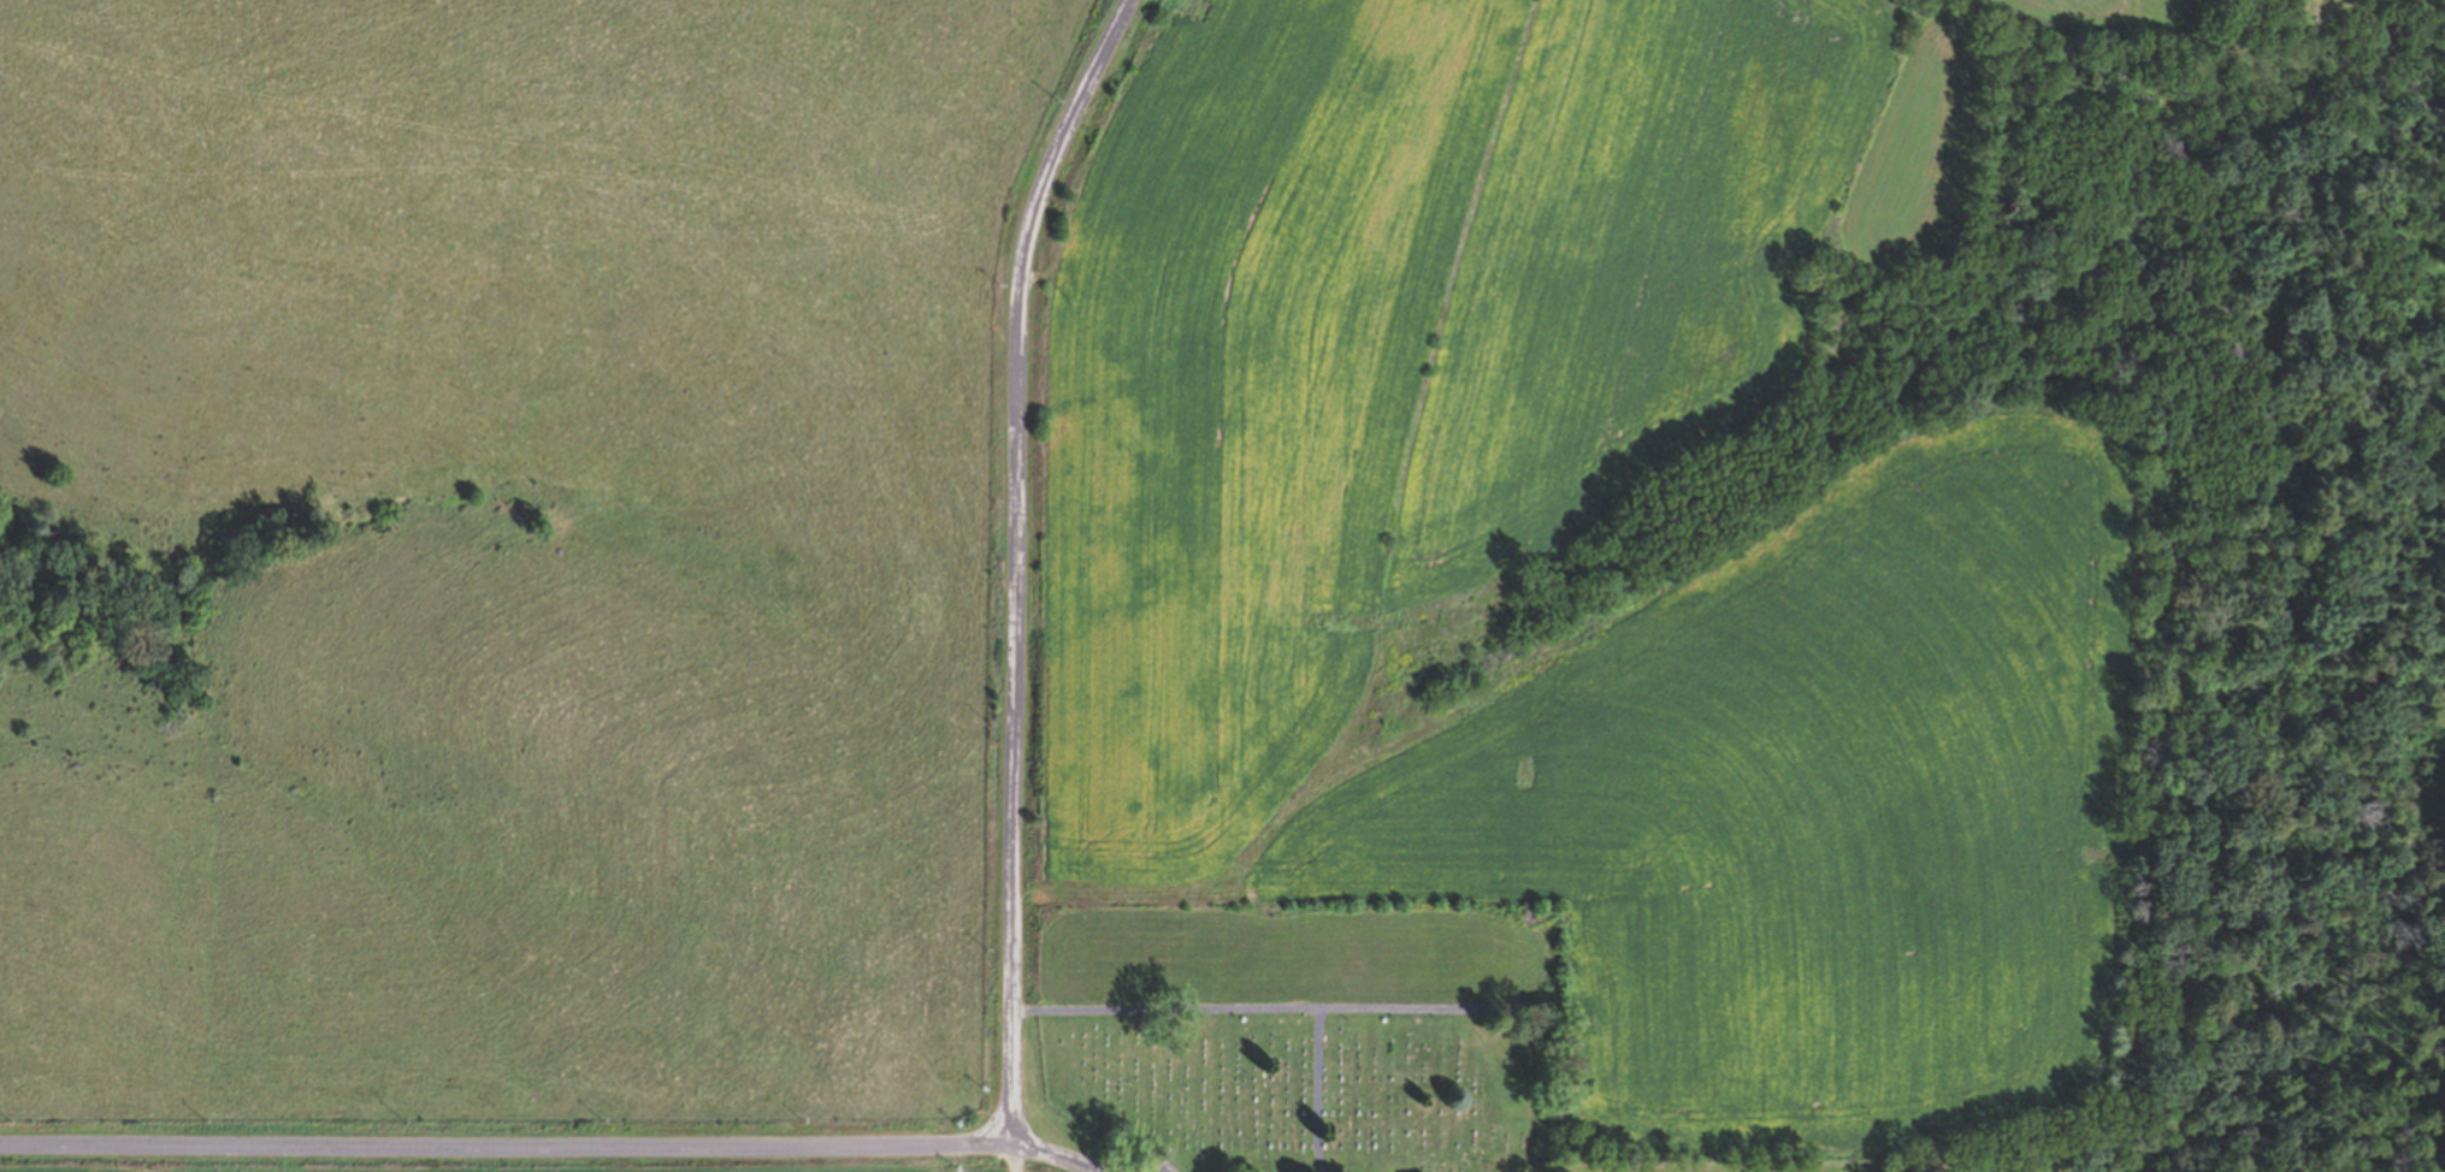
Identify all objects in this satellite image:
road: (1011, 562)
park: (1307, 1034)
road: (503, 1141)
road: (1050, 1156)
road: (1005, 1159)

